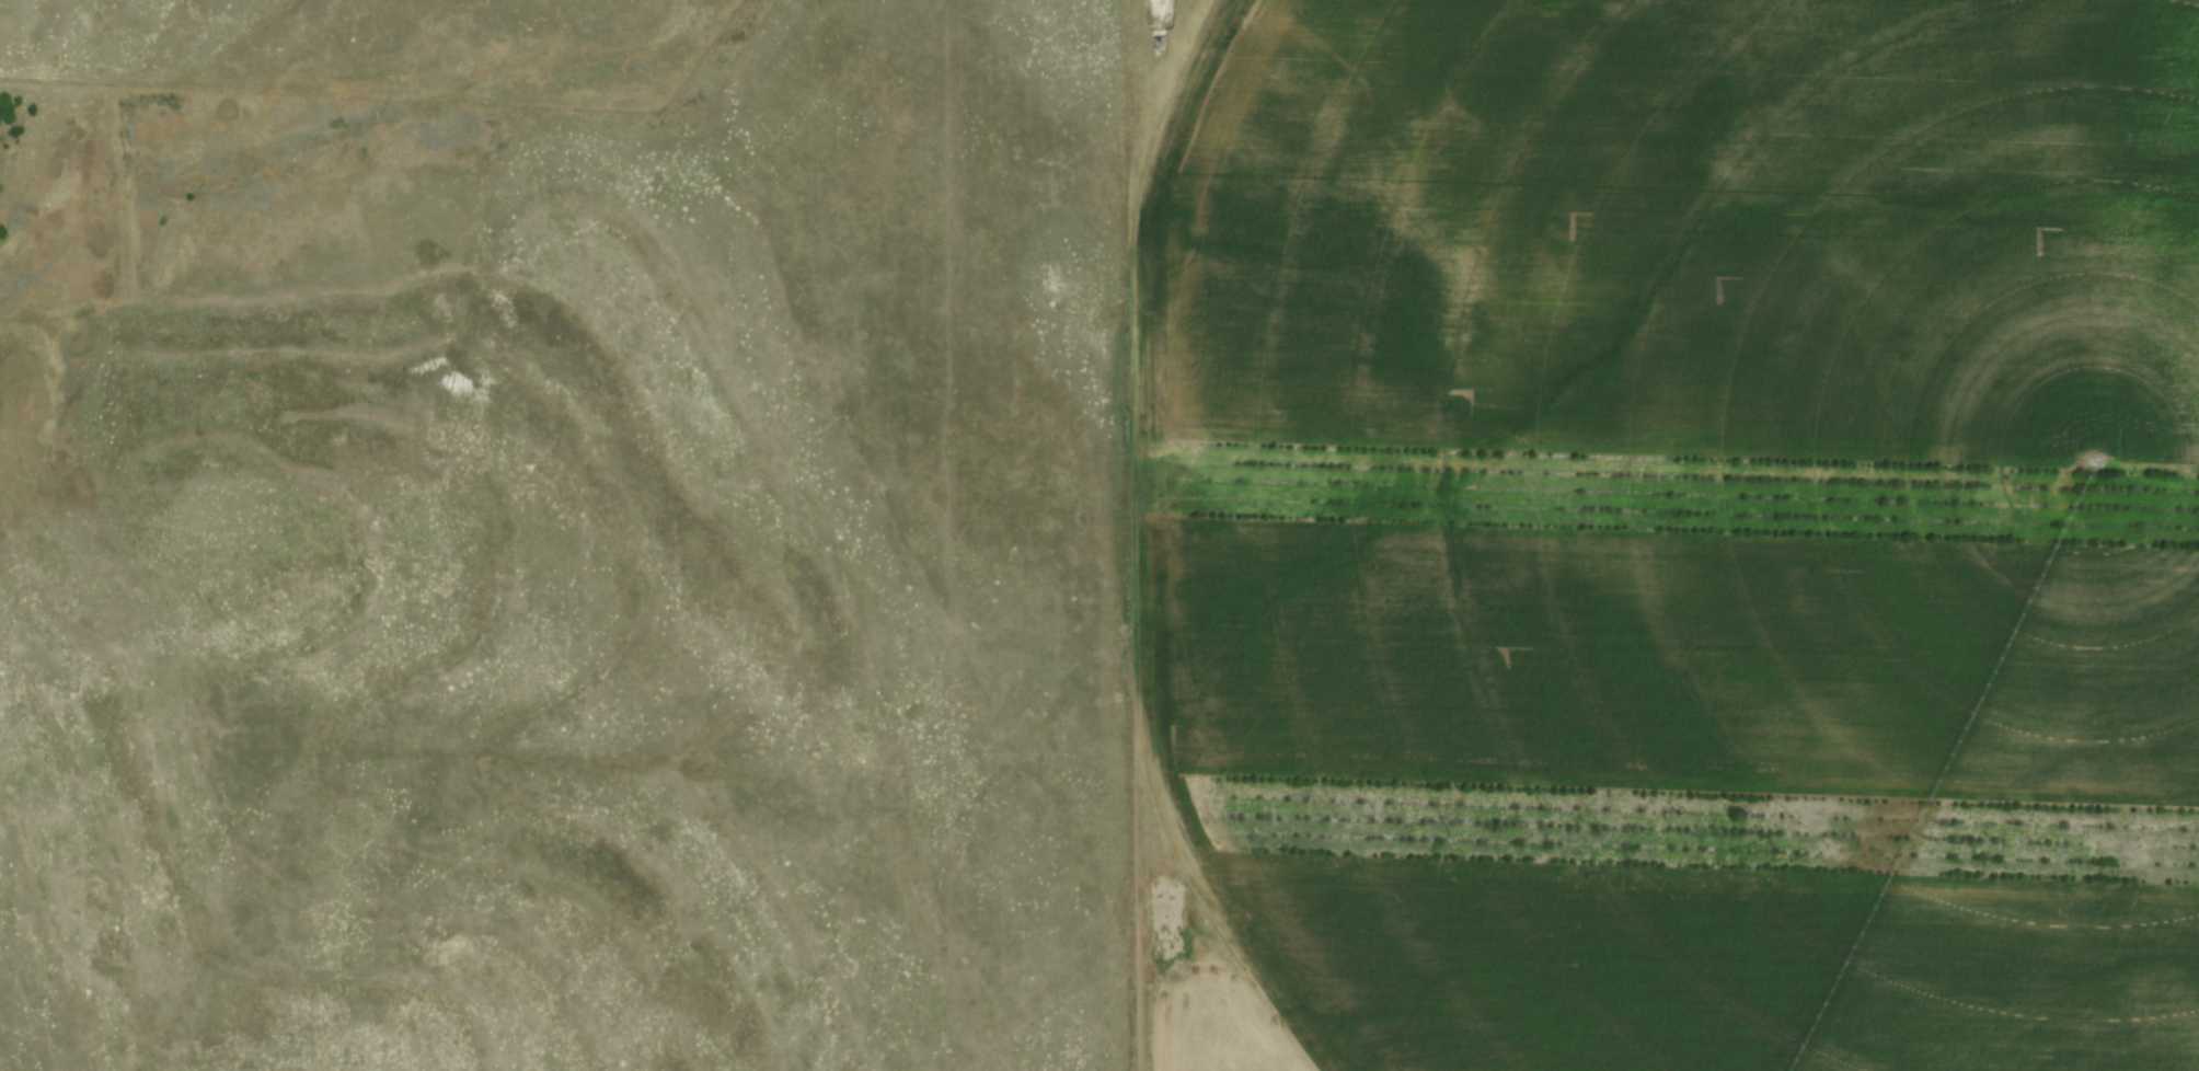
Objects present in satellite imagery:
crop: (1684, 227)
crop: (1682, 802)

